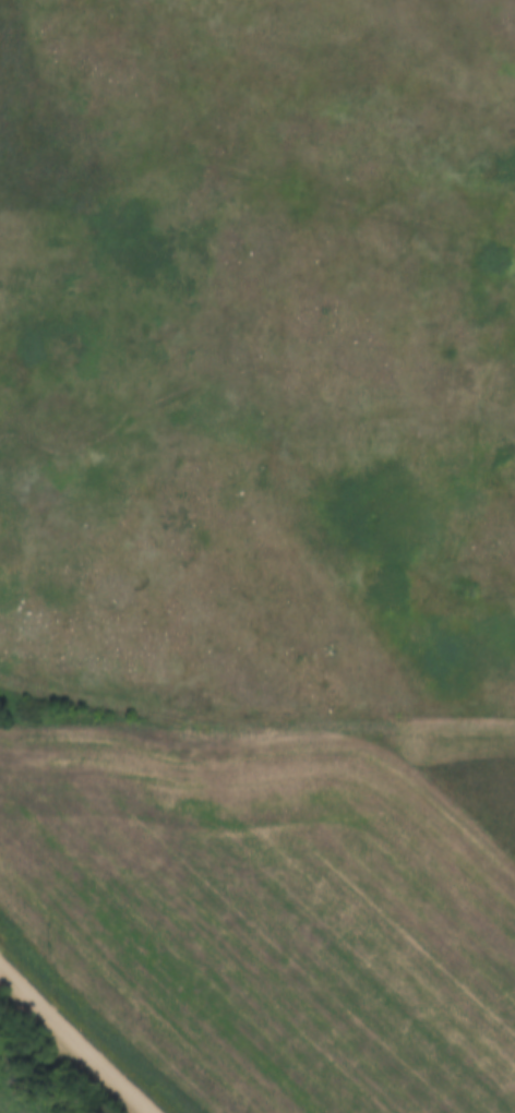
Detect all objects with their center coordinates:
road: (254, 725)
road: (73, 1043)

